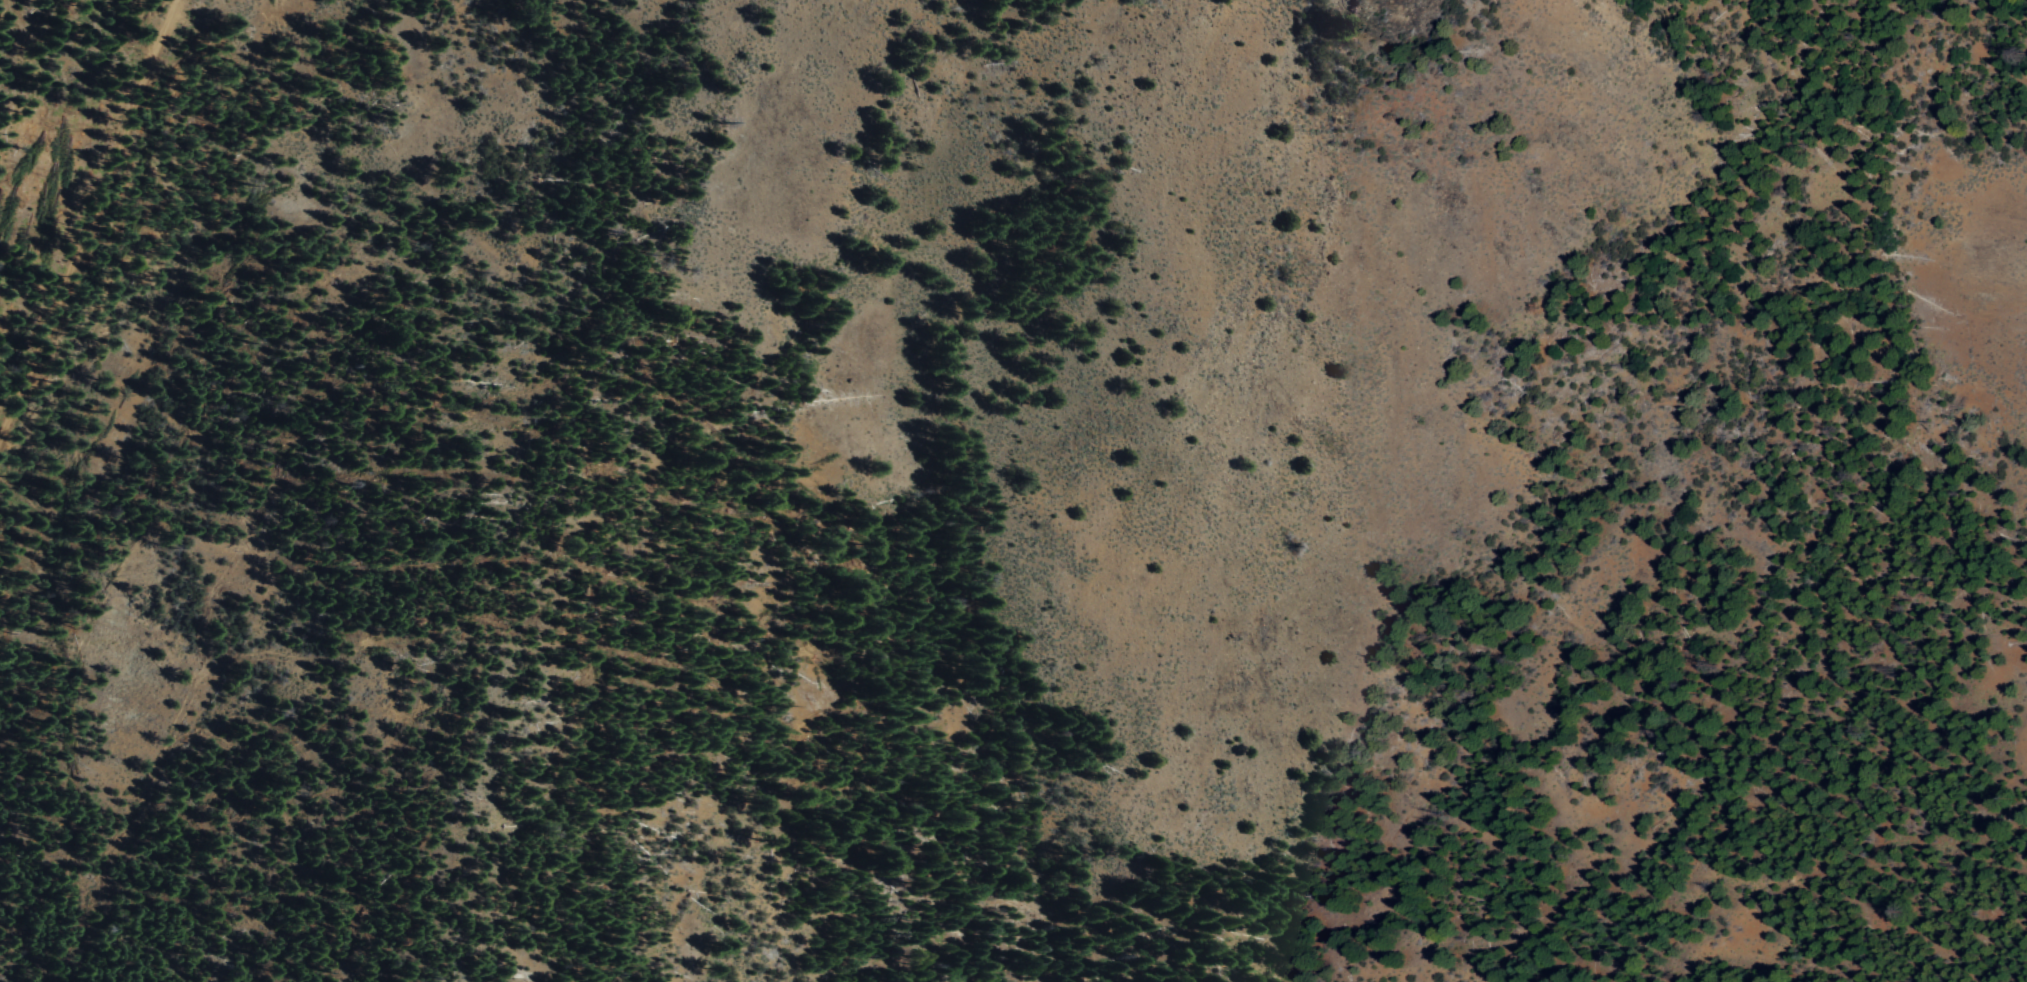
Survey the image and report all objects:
road: (92, 217)

